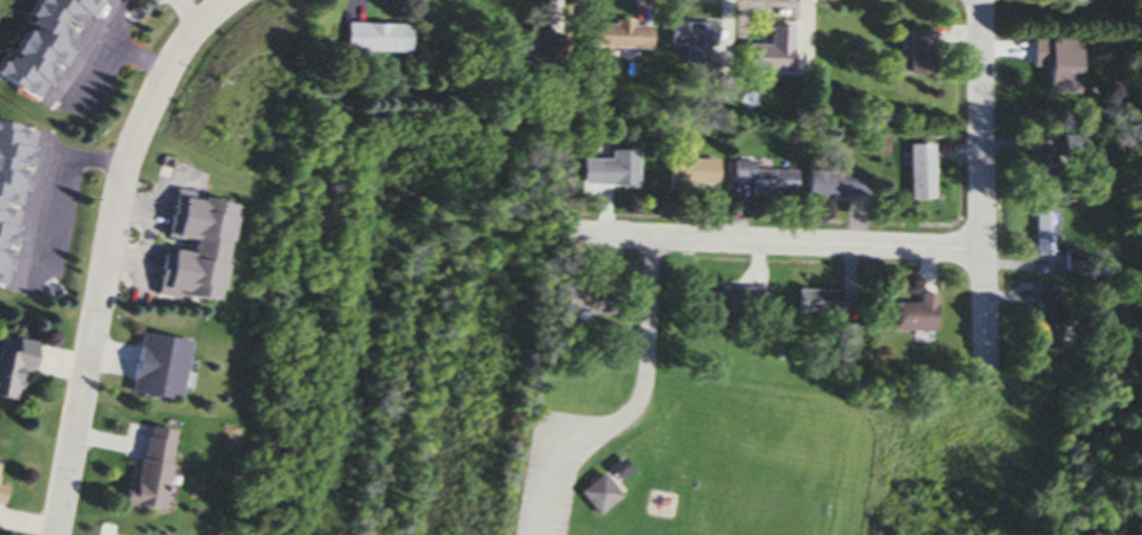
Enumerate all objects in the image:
road: (192, 14)
building: (620, 36)
building: (371, 38)
building: (687, 40)
building: (519, 46)
building: (43, 47)
building: (766, 53)
building: (913, 53)
building: (1054, 65)
building: (611, 169)
building: (686, 172)
building: (916, 172)
building: (761, 179)
road: (50, 180)
building: (834, 185)
road: (984, 185)
building: (1046, 186)
building: (11, 192)
building: (1046, 233)
road: (778, 243)
building: (185, 247)
road: (113, 253)
building: (576, 299)
building: (725, 299)
building: (815, 303)
road: (648, 312)
building: (912, 315)
building: (1048, 318)
building: (9, 368)
building: (149, 368)
road: (567, 444)
park: (641, 450)
park: (763, 465)
building: (140, 471)
building: (594, 495)
park: (572, 534)

